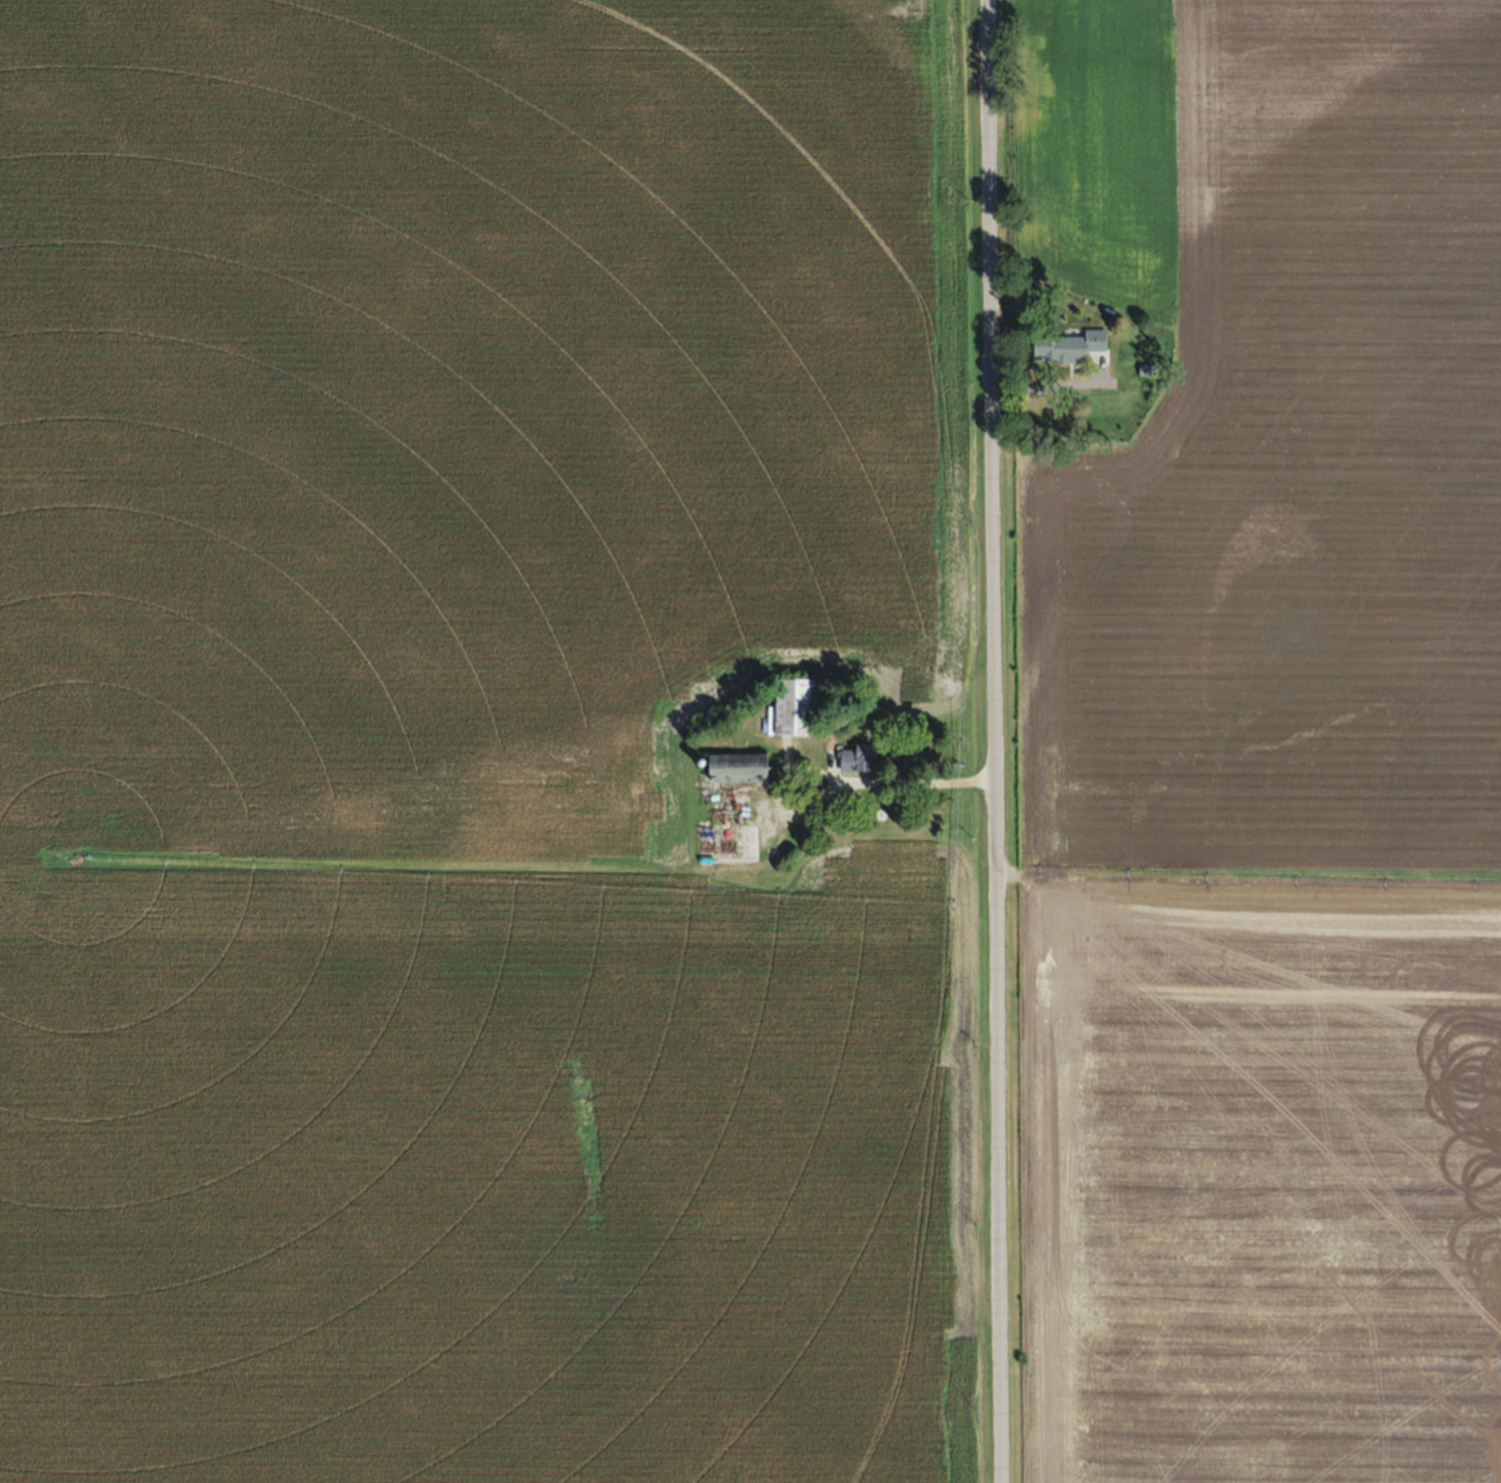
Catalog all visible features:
building: (1070, 344)
building: (796, 705)
road: (993, 741)
building: (858, 756)
building: (656, 766)
building: (740, 766)
road: (916, 780)
building: (755, 814)

